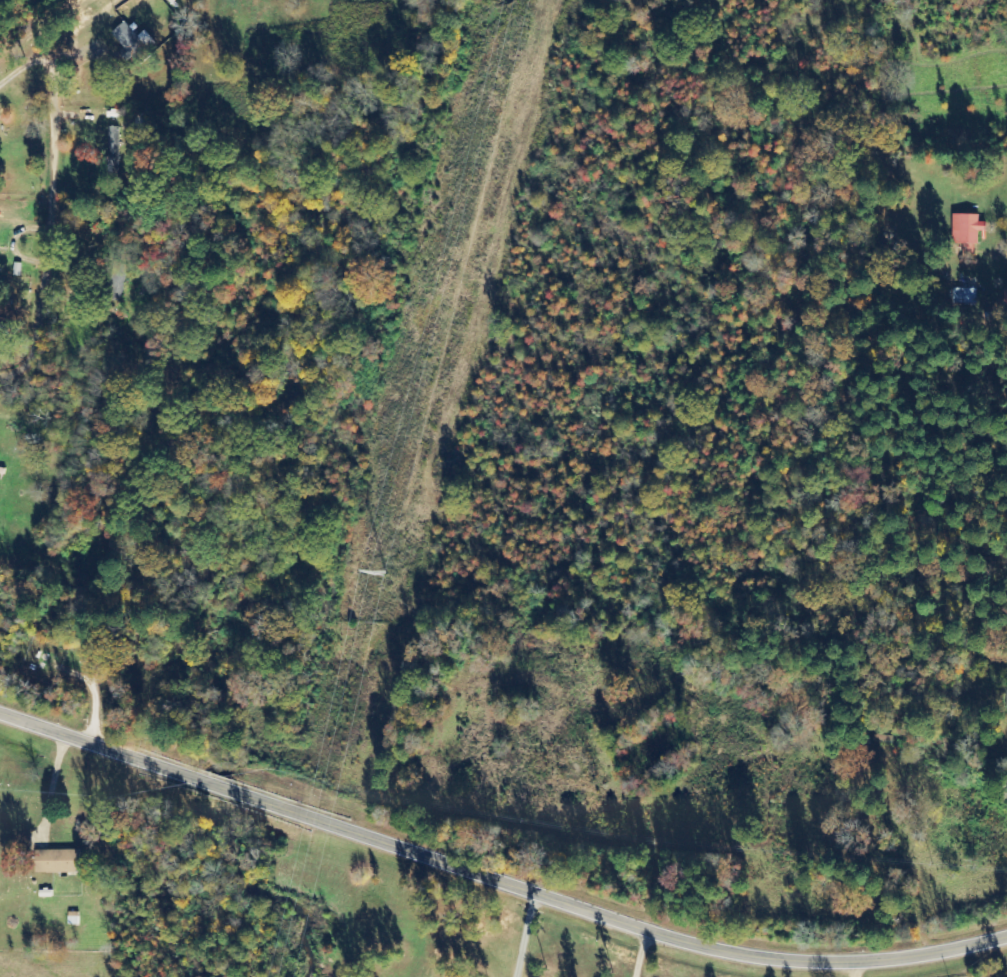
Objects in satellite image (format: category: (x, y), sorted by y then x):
building: (135, 41)
building: (114, 150)
road: (52, 210)
building: (968, 228)
building: (965, 296)
power tower: (384, 569)
building: (59, 861)
road: (496, 880)
road: (818, 971)

